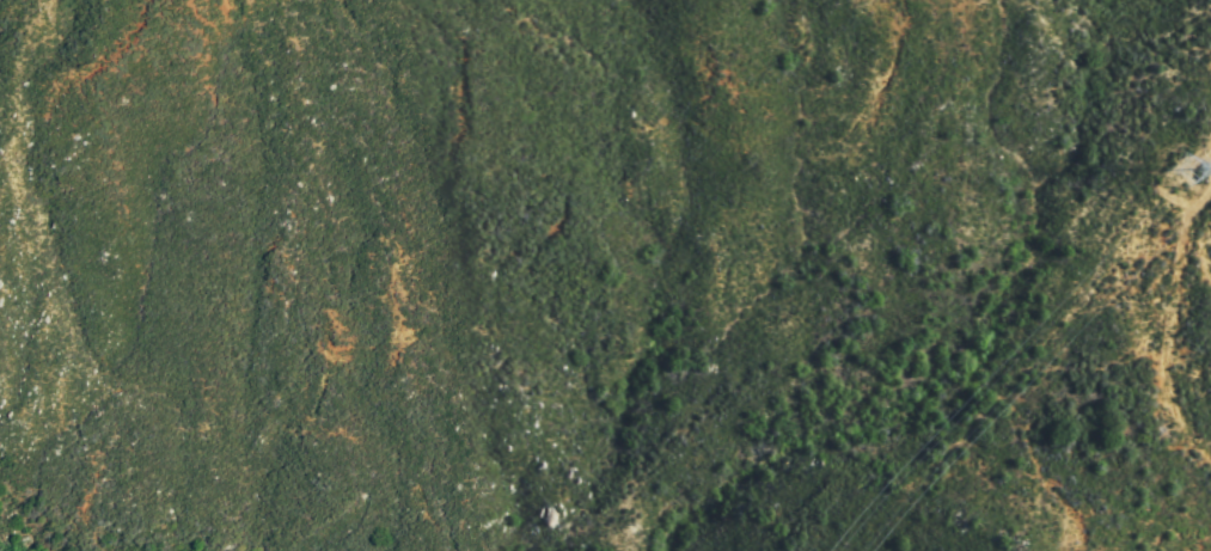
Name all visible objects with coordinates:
power tower: (1176, 170)

